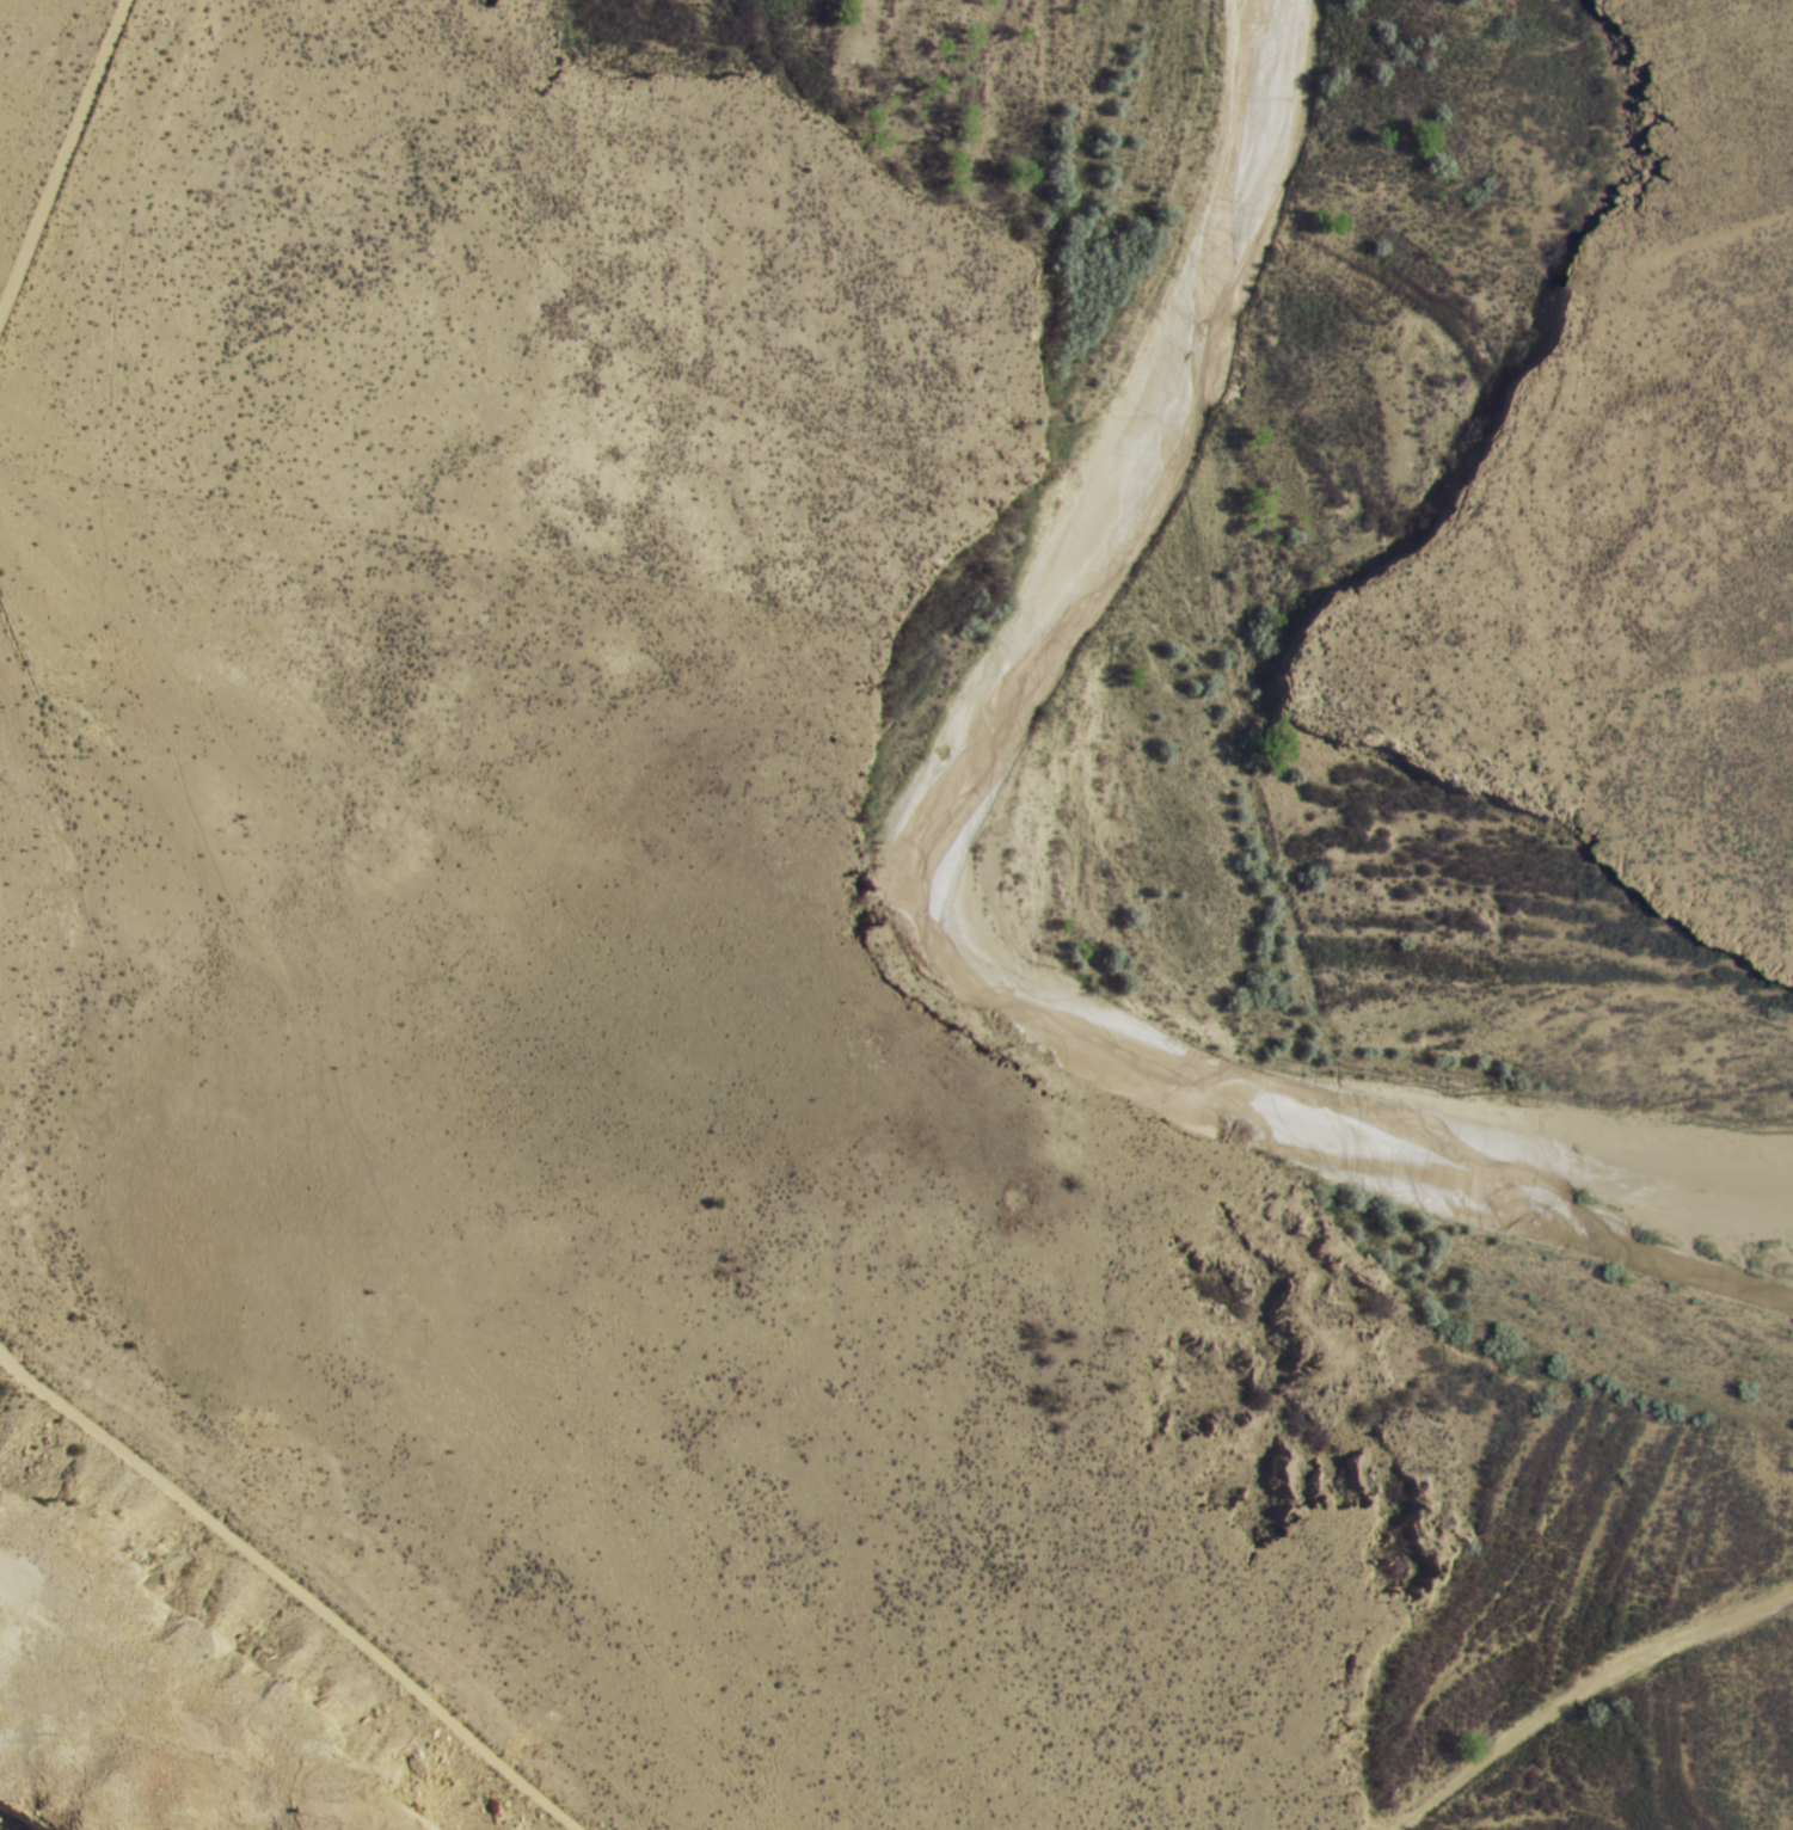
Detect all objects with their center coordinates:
road: (61, 154)
river: (1012, 876)
road: (295, 1588)

